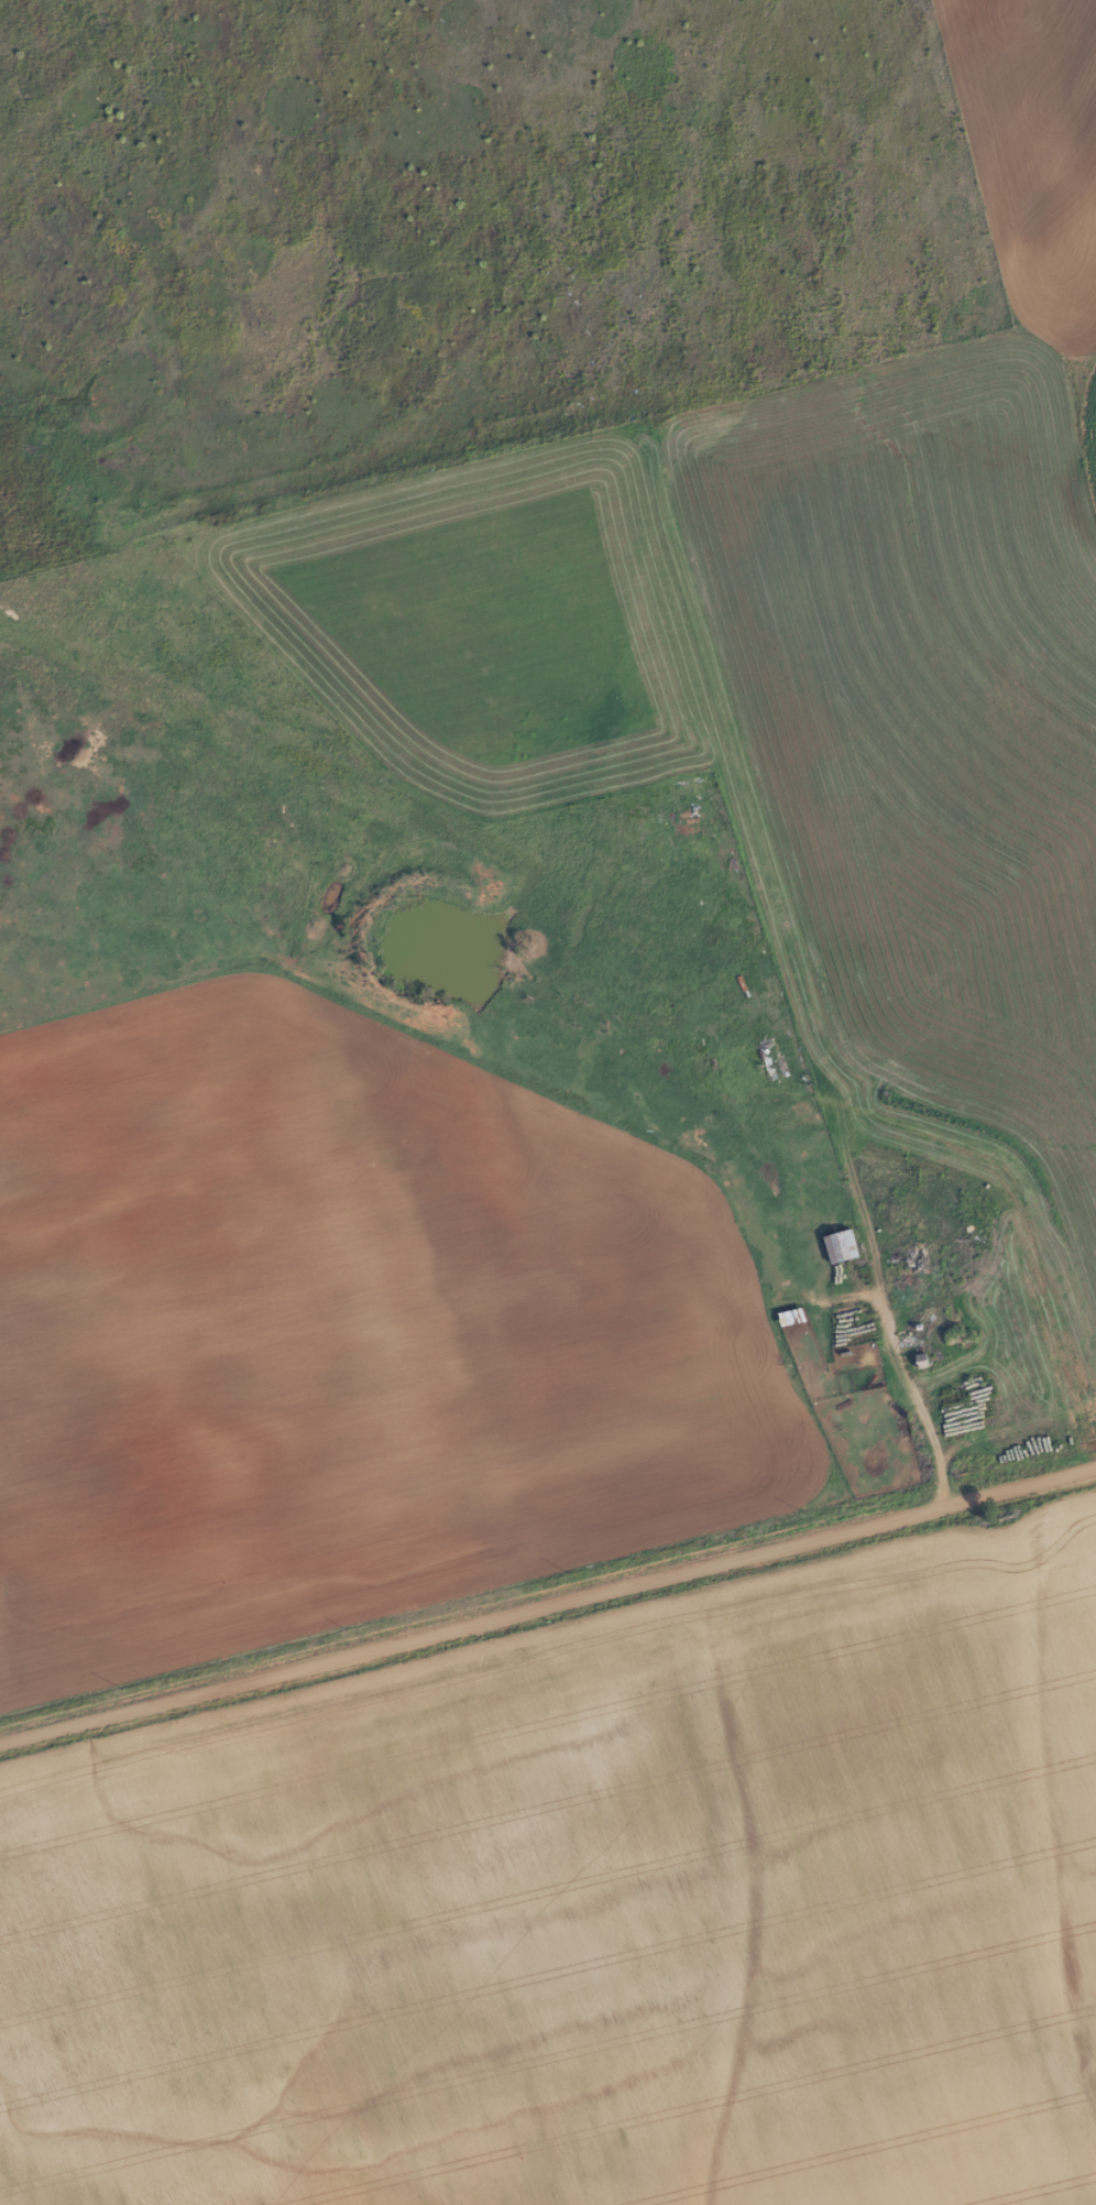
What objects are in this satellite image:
road: (914, 746)
building: (680, 825)
building: (837, 1246)
road: (547, 1602)

